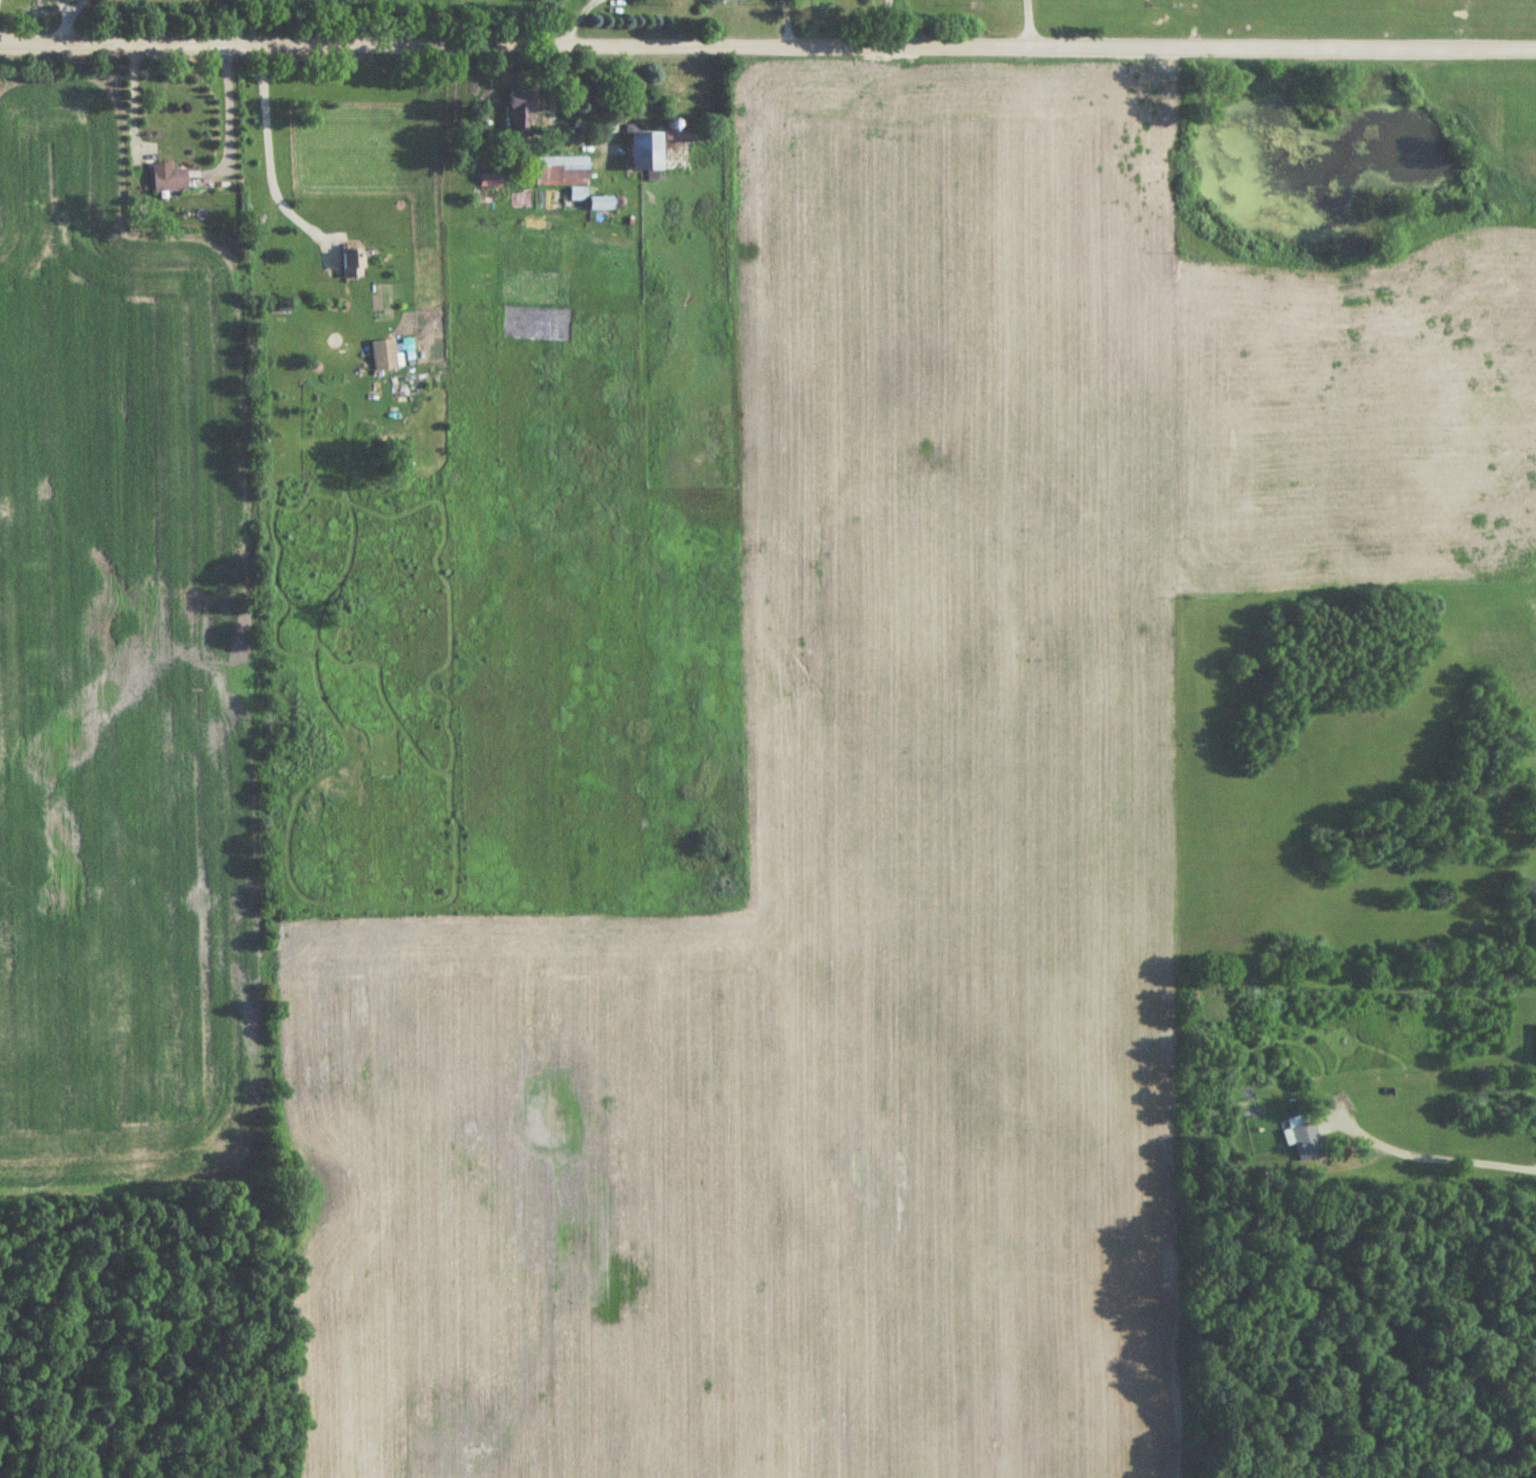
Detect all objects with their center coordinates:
building: (727, 0)
road: (68, 7)
road: (68, 20)
road: (886, 23)
road: (1032, 24)
road: (767, 46)
road: (132, 99)
road: (231, 103)
building: (521, 111)
road: (616, 115)
road: (268, 151)
building: (646, 154)
building: (561, 172)
building: (169, 178)
building: (578, 195)
building: (601, 204)
building: (352, 262)
building: (384, 355)
building: (1306, 1136)
road: (1432, 1151)

